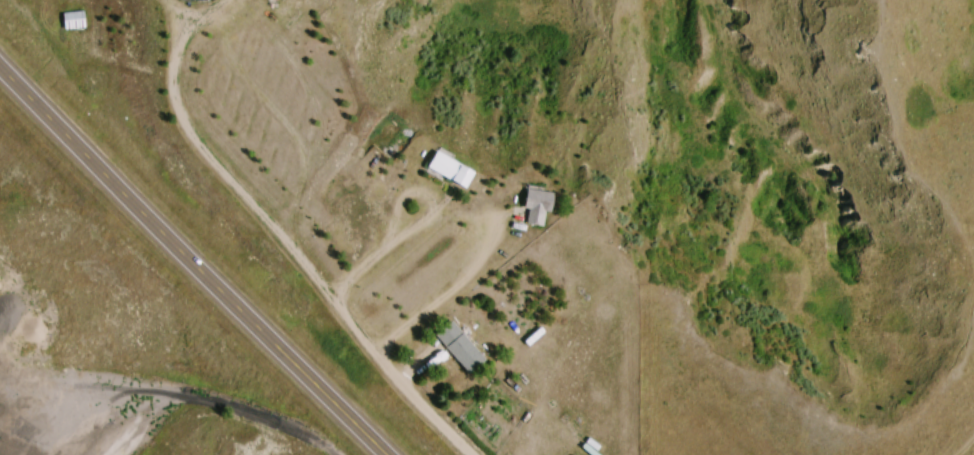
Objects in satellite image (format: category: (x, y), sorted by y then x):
road: (179, 60)
building: (455, 168)
building: (540, 205)
building: (363, 213)
road: (193, 259)
road: (331, 295)
road: (442, 299)
building: (462, 346)

